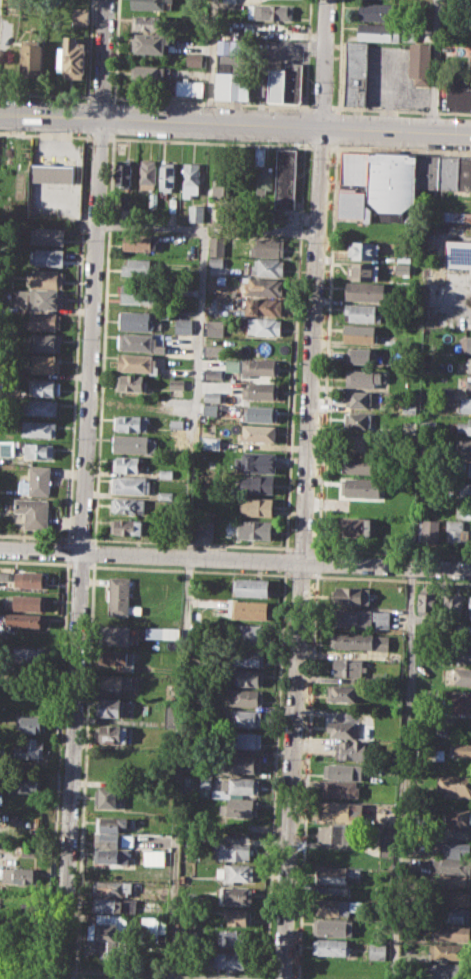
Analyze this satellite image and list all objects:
building: (230, 0)
building: (469, 1)
building: (151, 4)
building: (270, 11)
building: (376, 12)
building: (81, 16)
building: (148, 22)
building: (386, 32)
building: (149, 43)
road: (89, 46)
road: (307, 53)
road: (340, 56)
building: (32, 57)
building: (72, 58)
road: (103, 58)
building: (193, 59)
road: (210, 60)
road: (324, 63)
building: (420, 64)
road: (436, 65)
building: (232, 71)
building: (355, 73)
building: (166, 81)
building: (293, 82)
building: (276, 83)
building: (458, 92)
road: (48, 94)
road: (102, 95)
road: (212, 102)
road: (322, 107)
road: (305, 108)
road: (400, 110)
road: (235, 122)
road: (303, 126)
road: (337, 129)
road: (45, 134)
road: (99, 137)
road: (209, 142)
road: (321, 147)
road: (401, 151)
road: (76, 168)
building: (355, 168)
building: (427, 171)
building: (262, 172)
building: (448, 172)
building: (51, 173)
building: (123, 173)
building: (464, 173)
building: (147, 174)
building: (166, 176)
building: (285, 178)
building: (190, 179)
building: (221, 183)
building: (392, 184)
building: (152, 199)
building: (124, 202)
building: (172, 205)
building: (354, 205)
building: (195, 213)
building: (449, 216)
road: (257, 230)
building: (47, 235)
building: (139, 242)
building: (216, 246)
building: (267, 247)
building: (362, 250)
building: (458, 253)
building: (47, 257)
building: (215, 263)
building: (139, 267)
building: (267, 267)
building: (362, 271)
building: (46, 278)
building: (263, 287)
building: (363, 290)
building: (138, 292)
building: (41, 298)
building: (264, 307)
building: (362, 312)
building: (137, 320)
building: (43, 321)
building: (183, 325)
building: (263, 326)
building: (215, 327)
building: (359, 332)
building: (139, 340)
building: (44, 342)
building: (465, 344)
road: (293, 347)
building: (266, 349)
building: (213, 350)
road: (327, 350)
building: (360, 355)
building: (44, 363)
building: (136, 363)
building: (232, 365)
building: (469, 365)
building: (259, 366)
building: (213, 374)
building: (364, 377)
building: (131, 383)
building: (176, 383)
building: (468, 383)
building: (43, 387)
building: (260, 390)
building: (212, 396)
building: (358, 399)
building: (466, 405)
building: (40, 406)
building: (212, 409)
building: (259, 413)
building: (357, 420)
building: (131, 423)
building: (175, 423)
building: (461, 426)
building: (40, 428)
building: (428, 428)
building: (257, 433)
building: (357, 442)
building: (134, 443)
building: (461, 447)
building: (38, 450)
building: (256, 461)
building: (126, 463)
building: (359, 464)
building: (467, 468)
building: (35, 481)
building: (258, 483)
building: (130, 485)
building: (360, 488)
building: (465, 490)
building: (128, 505)
building: (257, 506)
building: (463, 510)
building: (33, 511)
building: (126, 526)
building: (358, 526)
building: (203, 528)
building: (254, 529)
building: (430, 531)
building: (457, 532)
road: (82, 547)
road: (186, 552)
road: (302, 552)
road: (235, 559)
road: (285, 561)
road: (317, 562)
building: (4, 576)
building: (31, 578)
building: (251, 587)
building: (119, 595)
building: (352, 595)
building: (426, 600)
building: (28, 601)
building: (454, 605)
building: (469, 607)
building: (248, 609)
building: (361, 617)
building: (25, 619)
building: (154, 632)
building: (464, 632)
building: (250, 634)
building: (114, 635)
building: (360, 641)
building: (461, 653)
building: (29, 655)
building: (248, 658)
building: (120, 659)
building: (348, 667)
building: (460, 676)
building: (249, 678)
building: (117, 682)
building: (343, 692)
building: (245, 697)
building: (459, 702)
building: (112, 706)
building: (171, 715)
building: (243, 717)
building: (30, 722)
building: (340, 728)
building: (110, 733)
building: (242, 740)
building: (30, 747)
building: (460, 748)
building: (357, 749)
building: (247, 764)
building: (343, 771)
road: (401, 773)
road: (274, 774)
road: (306, 775)
building: (30, 785)
building: (204, 785)
building: (454, 785)
building: (236, 786)
building: (12, 787)
building: (341, 788)
building: (109, 796)
building: (0, 798)
building: (240, 808)
building: (334, 810)
building: (457, 816)
building: (114, 822)
building: (457, 831)
building: (337, 833)
building: (113, 840)
building: (386, 843)
building: (455, 849)
building: (234, 852)
building: (110, 856)
building: (153, 857)
building: (451, 865)
building: (236, 872)
building: (26, 875)
building: (333, 875)
building: (455, 881)
building: (108, 887)
building: (237, 894)
building: (454, 897)
building: (114, 905)
building: (334, 907)
building: (456, 914)
building: (237, 916)
building: (106, 927)
building: (331, 927)
building: (150, 929)
building: (450, 932)
building: (234, 937)
building: (332, 947)
building: (377, 950)
building: (449, 951)
building: (232, 960)
building: (448, 970)

